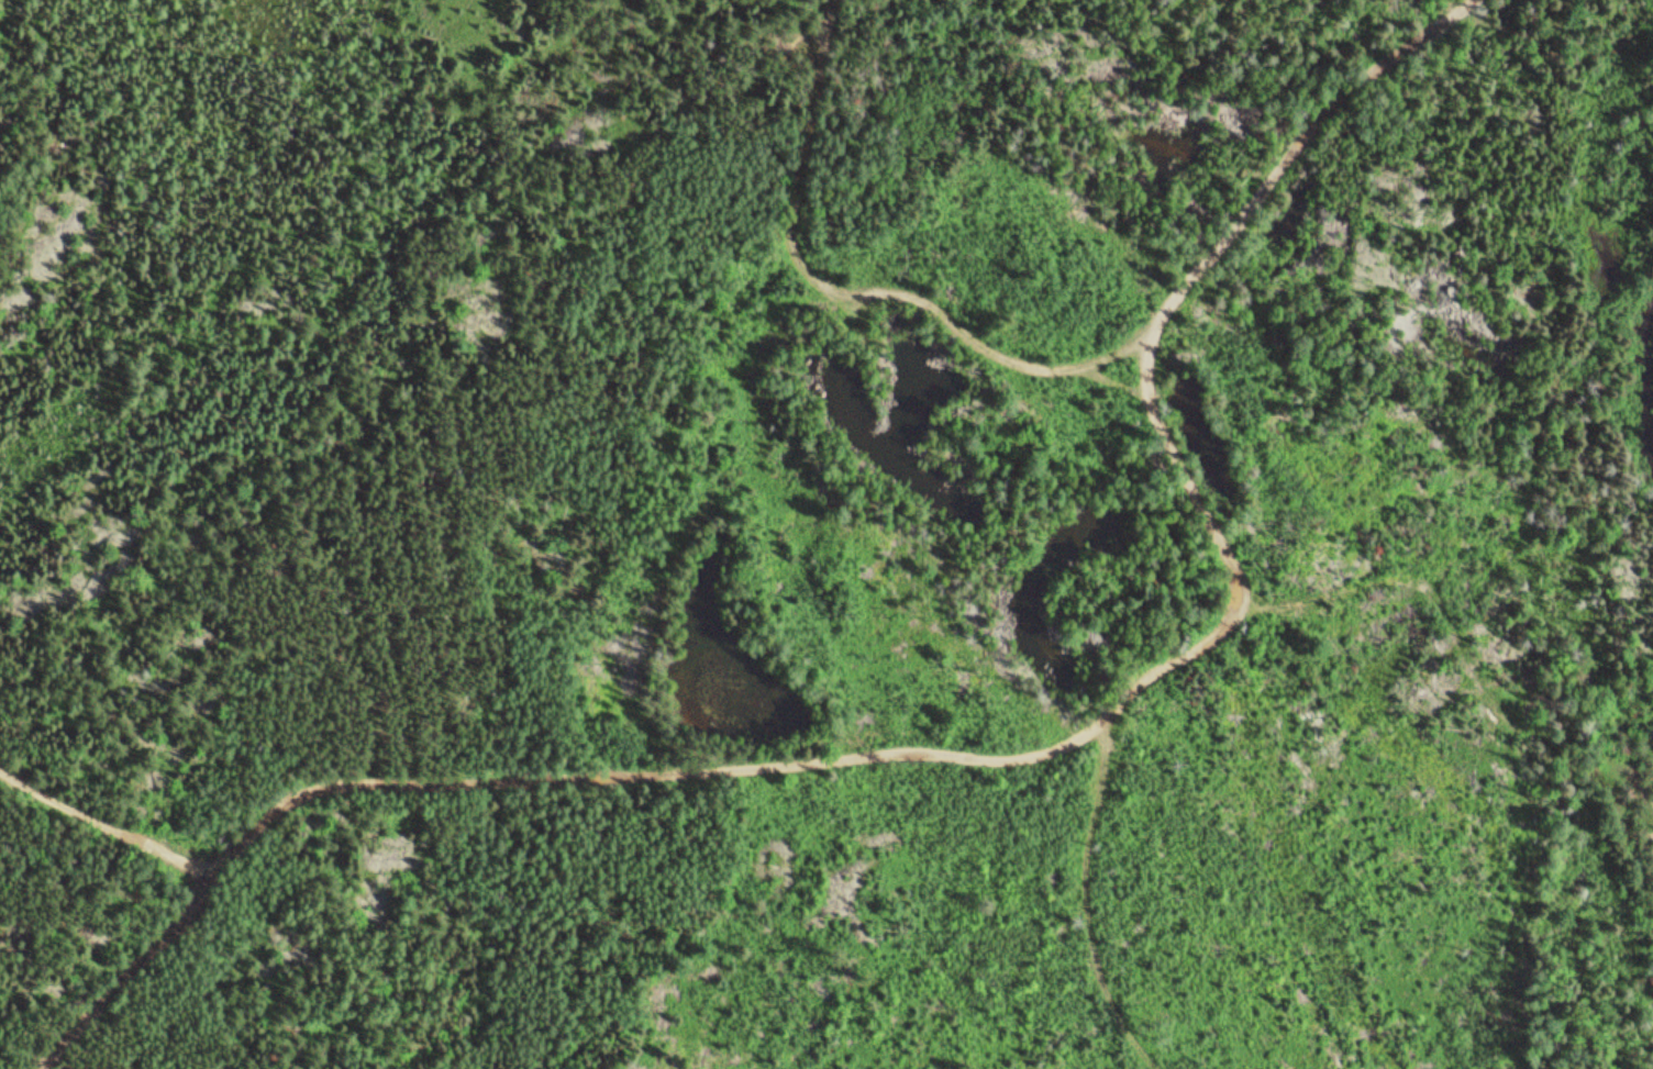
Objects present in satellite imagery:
road: (976, 758)
road: (99, 828)

